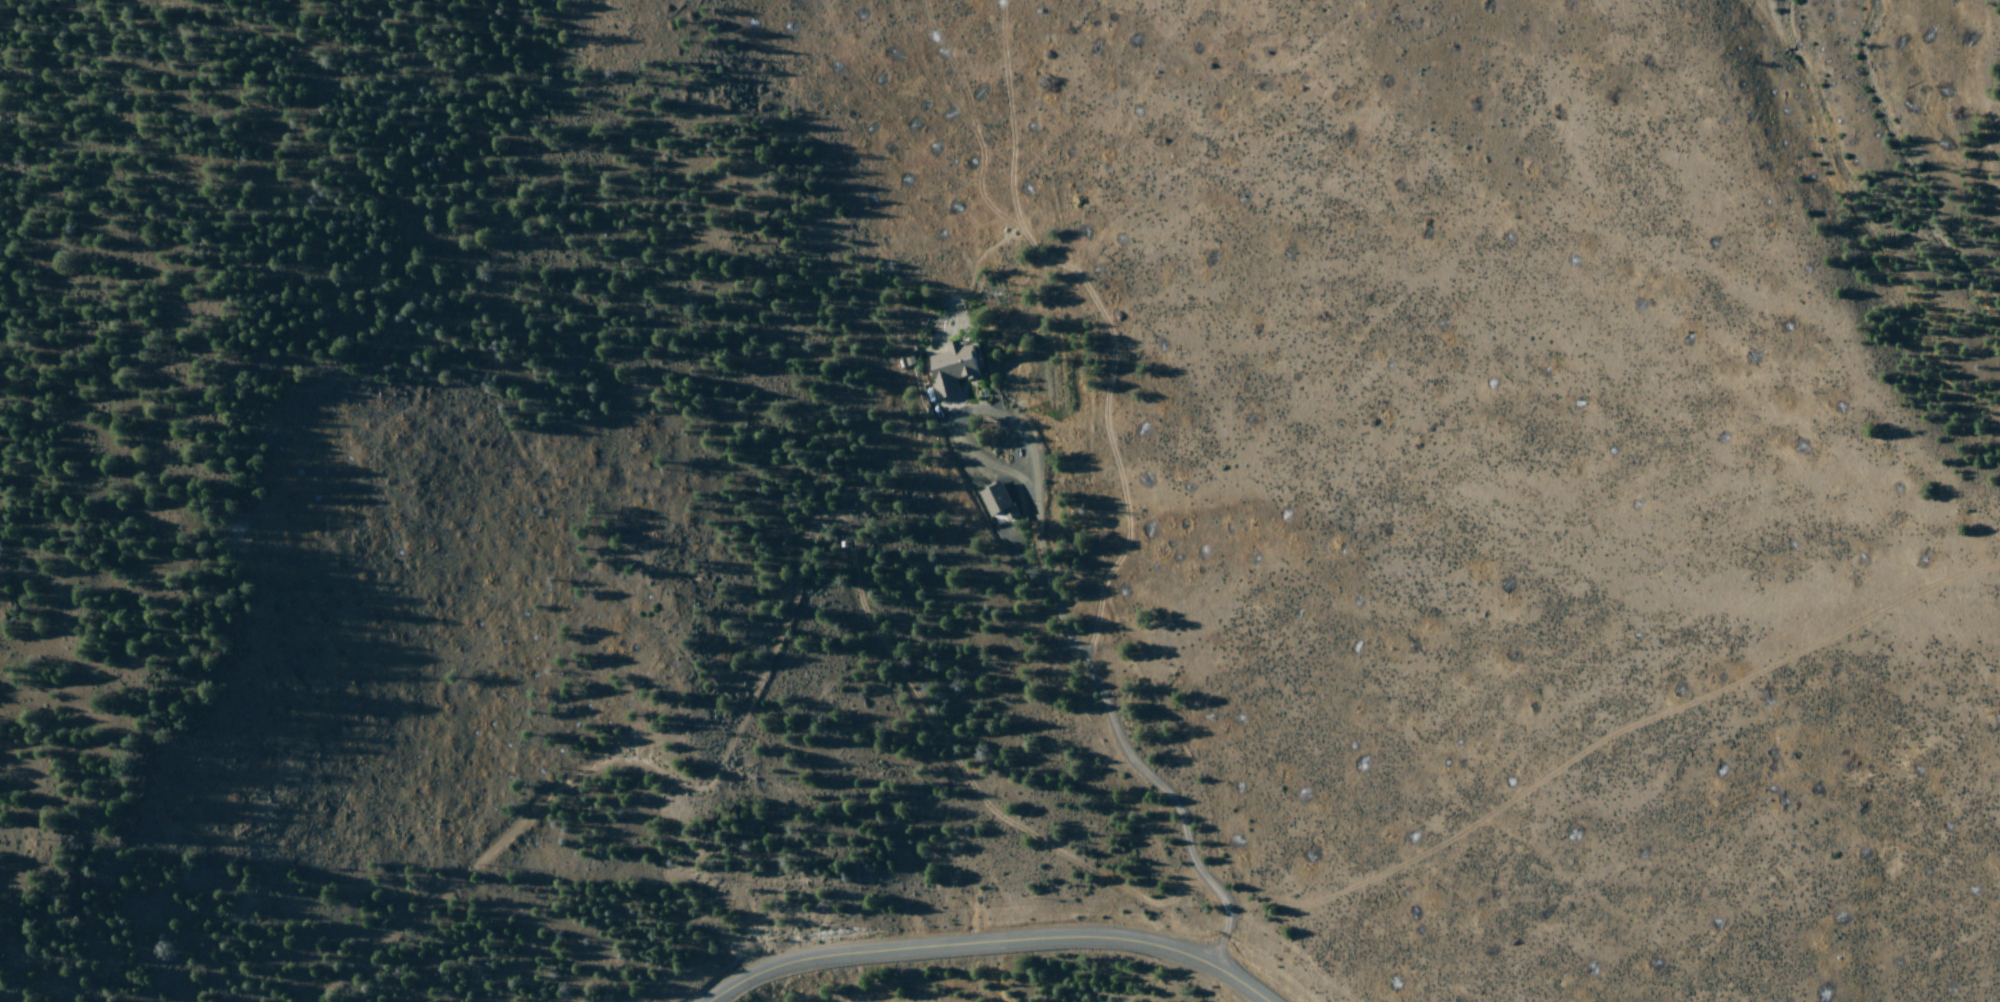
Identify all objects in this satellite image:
building: (1001, 504)
road: (1112, 706)
road: (999, 949)

